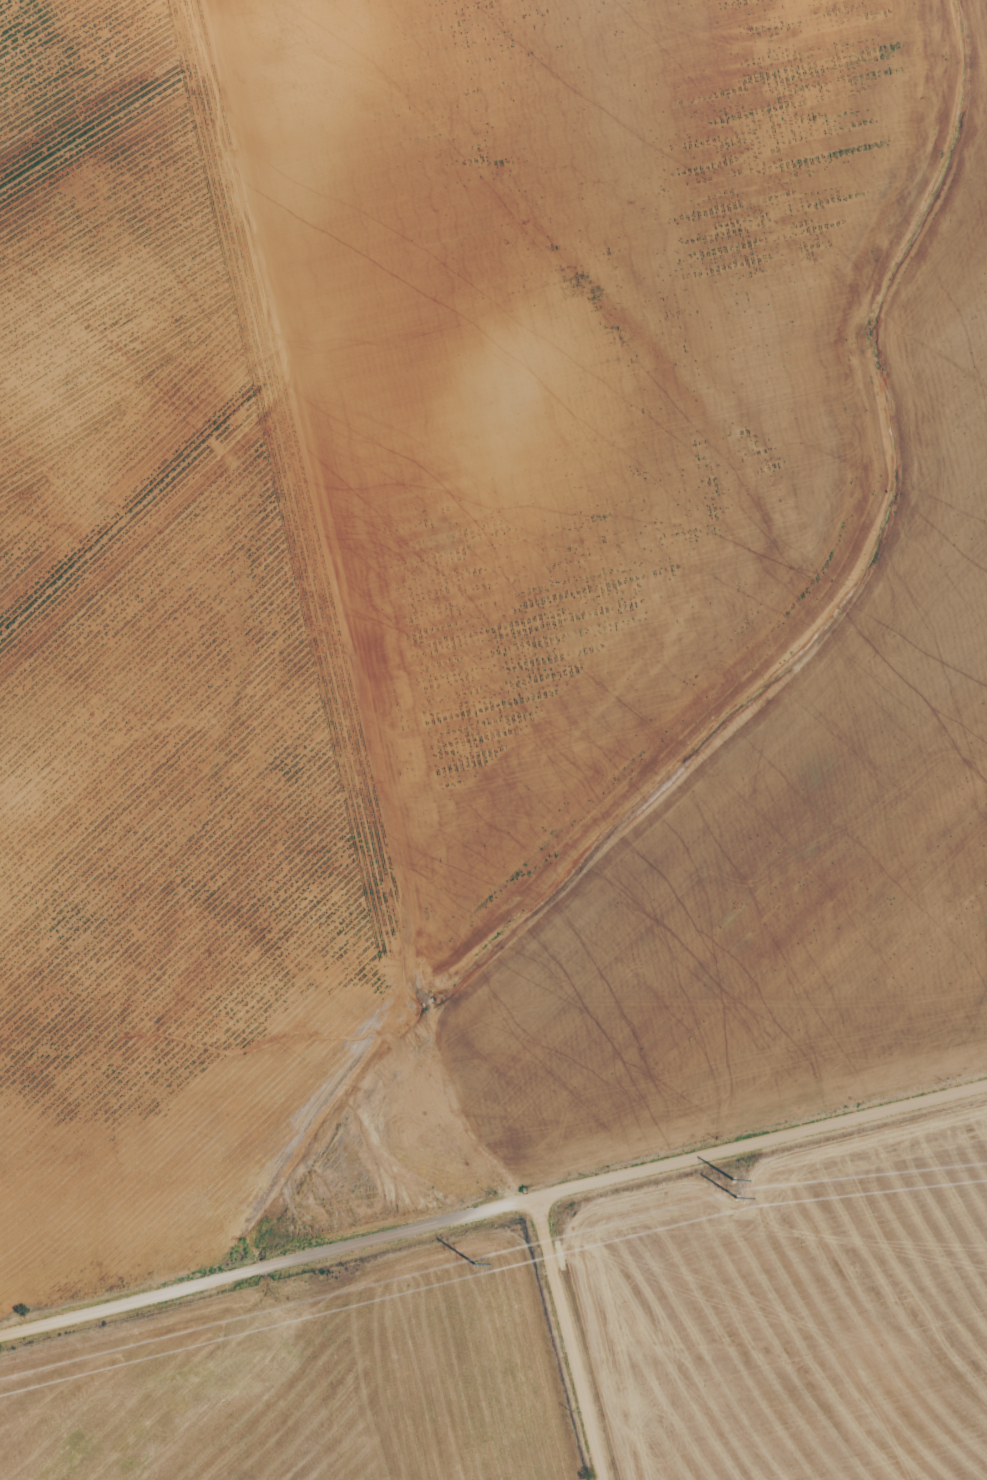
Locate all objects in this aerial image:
power tower: (737, 1189)
road: (493, 1230)
power tower: (477, 1265)
road: (595, 1346)

